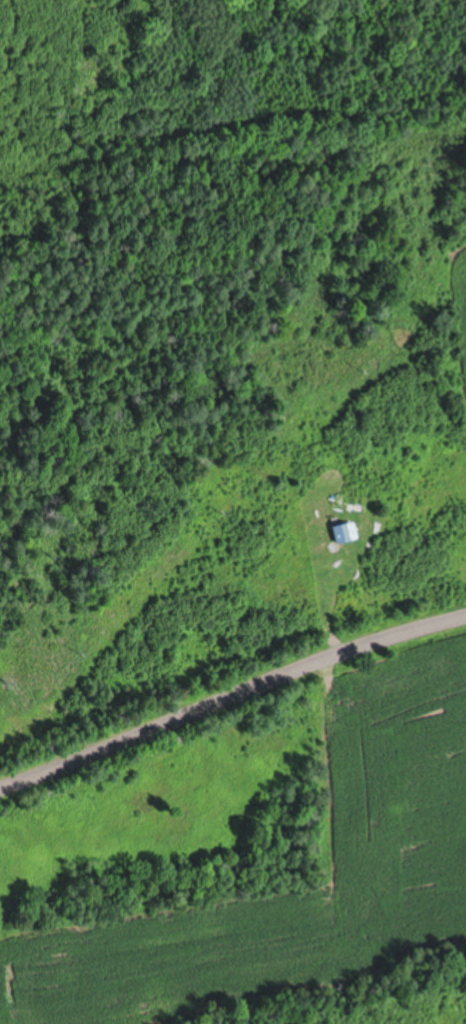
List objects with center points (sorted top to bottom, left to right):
road: (231, 661)

